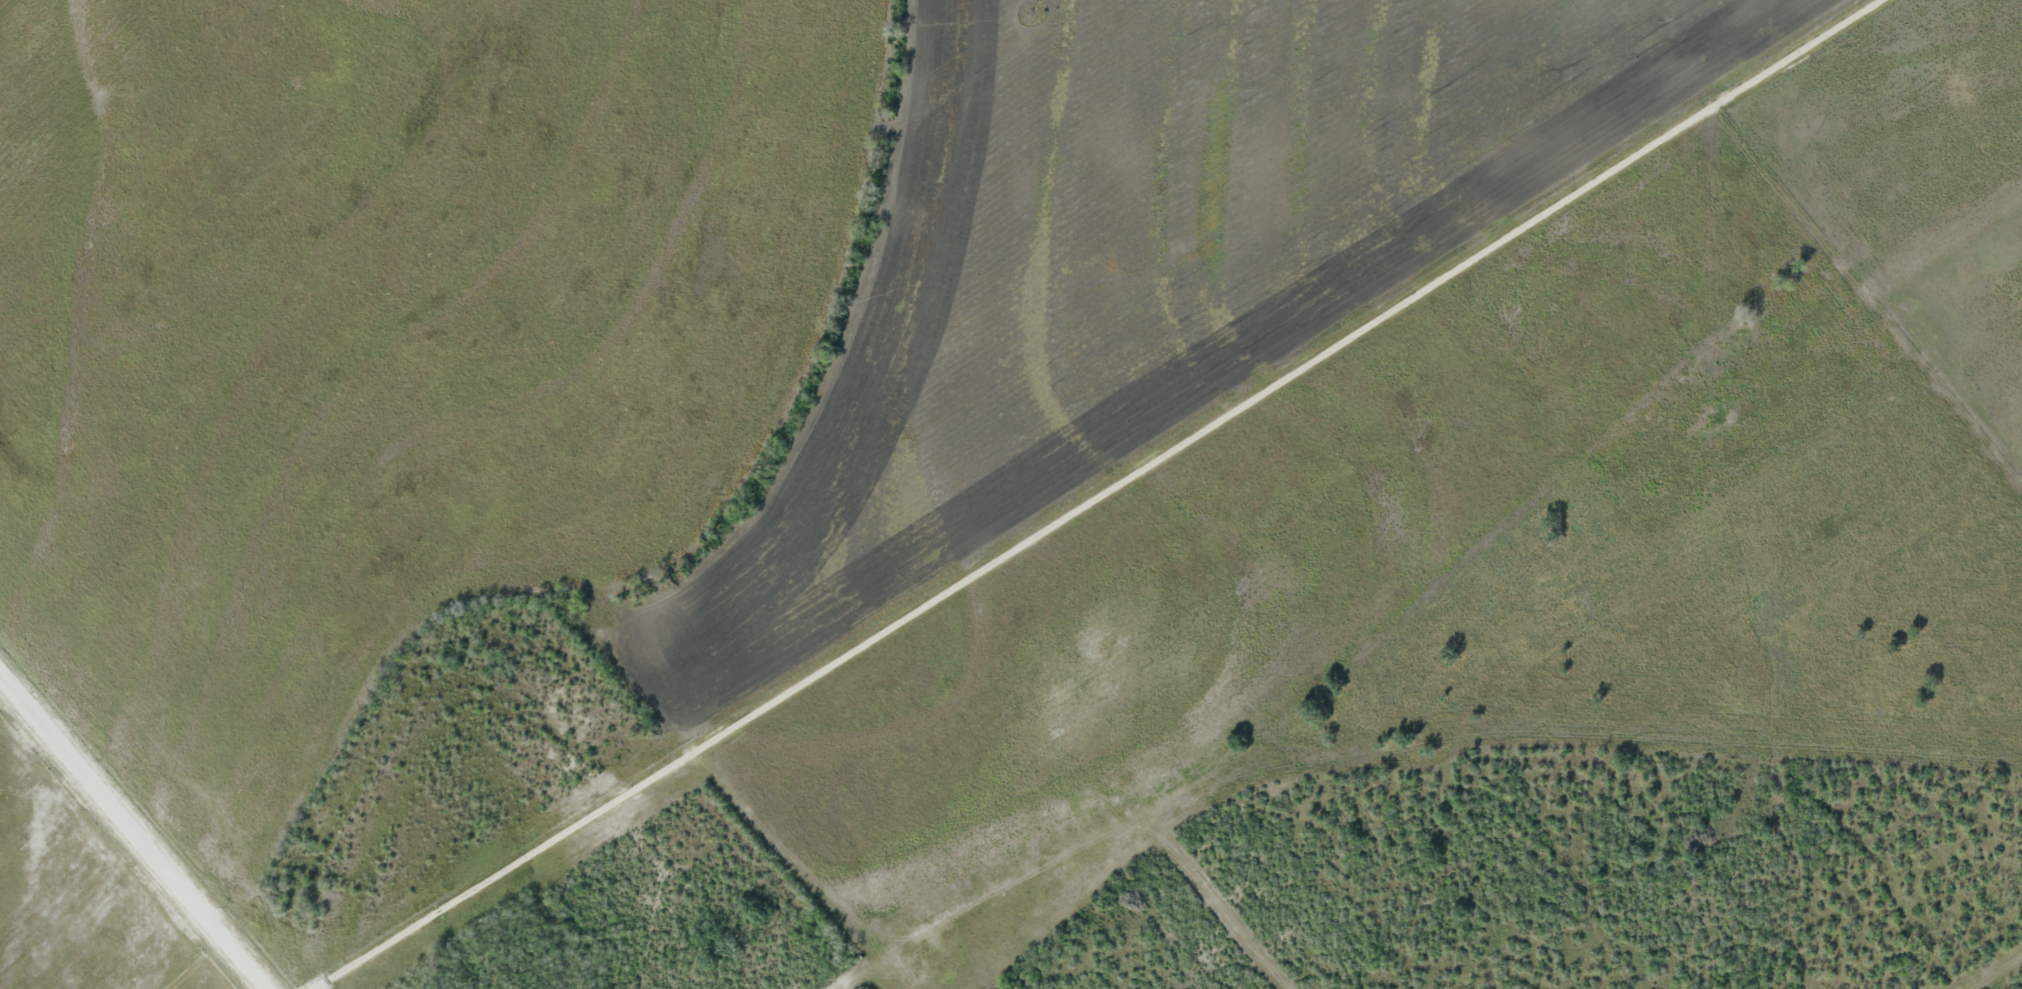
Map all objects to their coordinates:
road: (1112, 494)
road: (137, 826)

